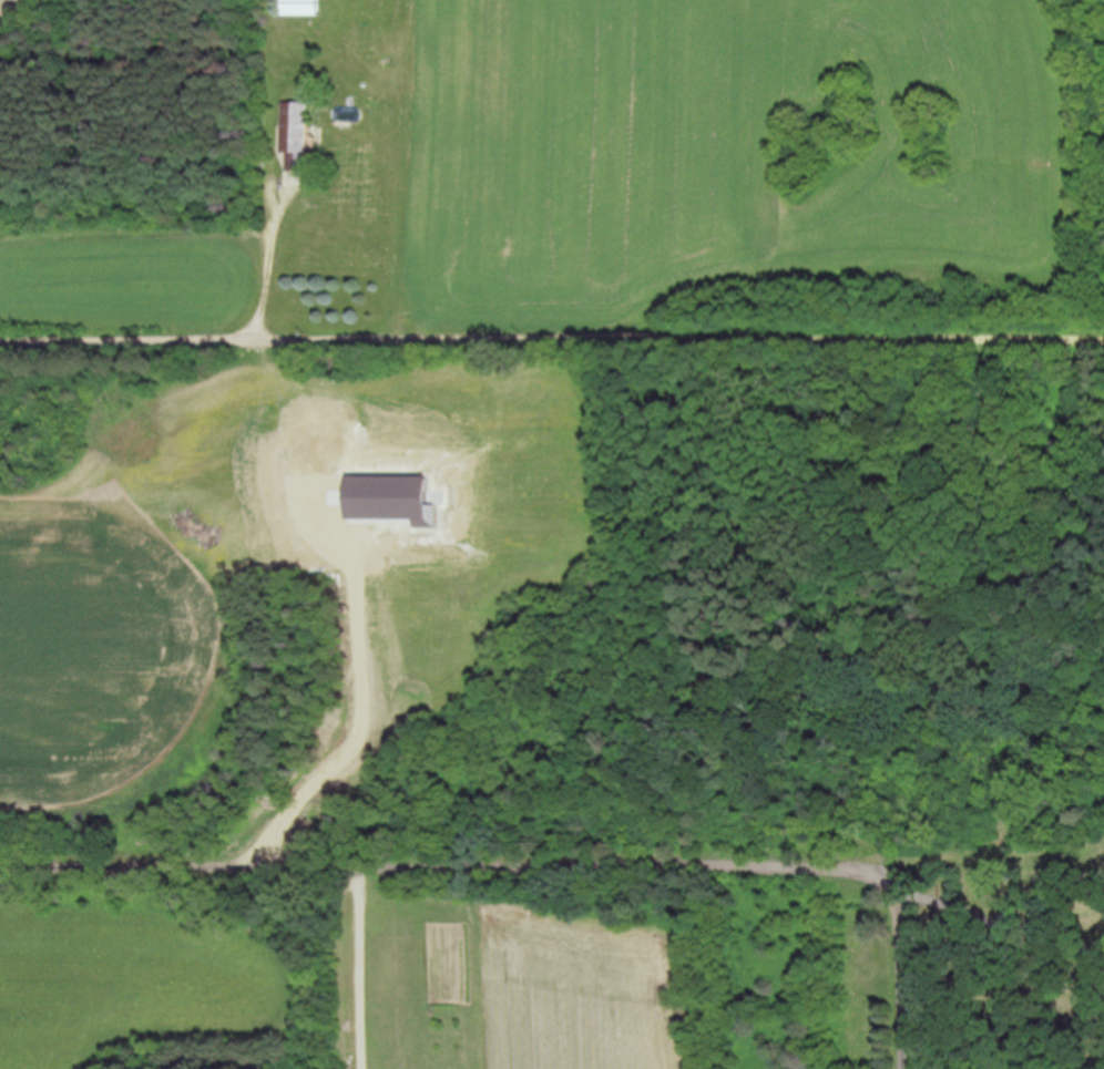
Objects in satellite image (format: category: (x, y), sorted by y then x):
building: (298, 8)
building: (295, 145)
road: (272, 255)
road: (551, 338)
road: (361, 728)
road: (552, 864)
road: (989, 926)
road: (359, 967)
road: (898, 970)

